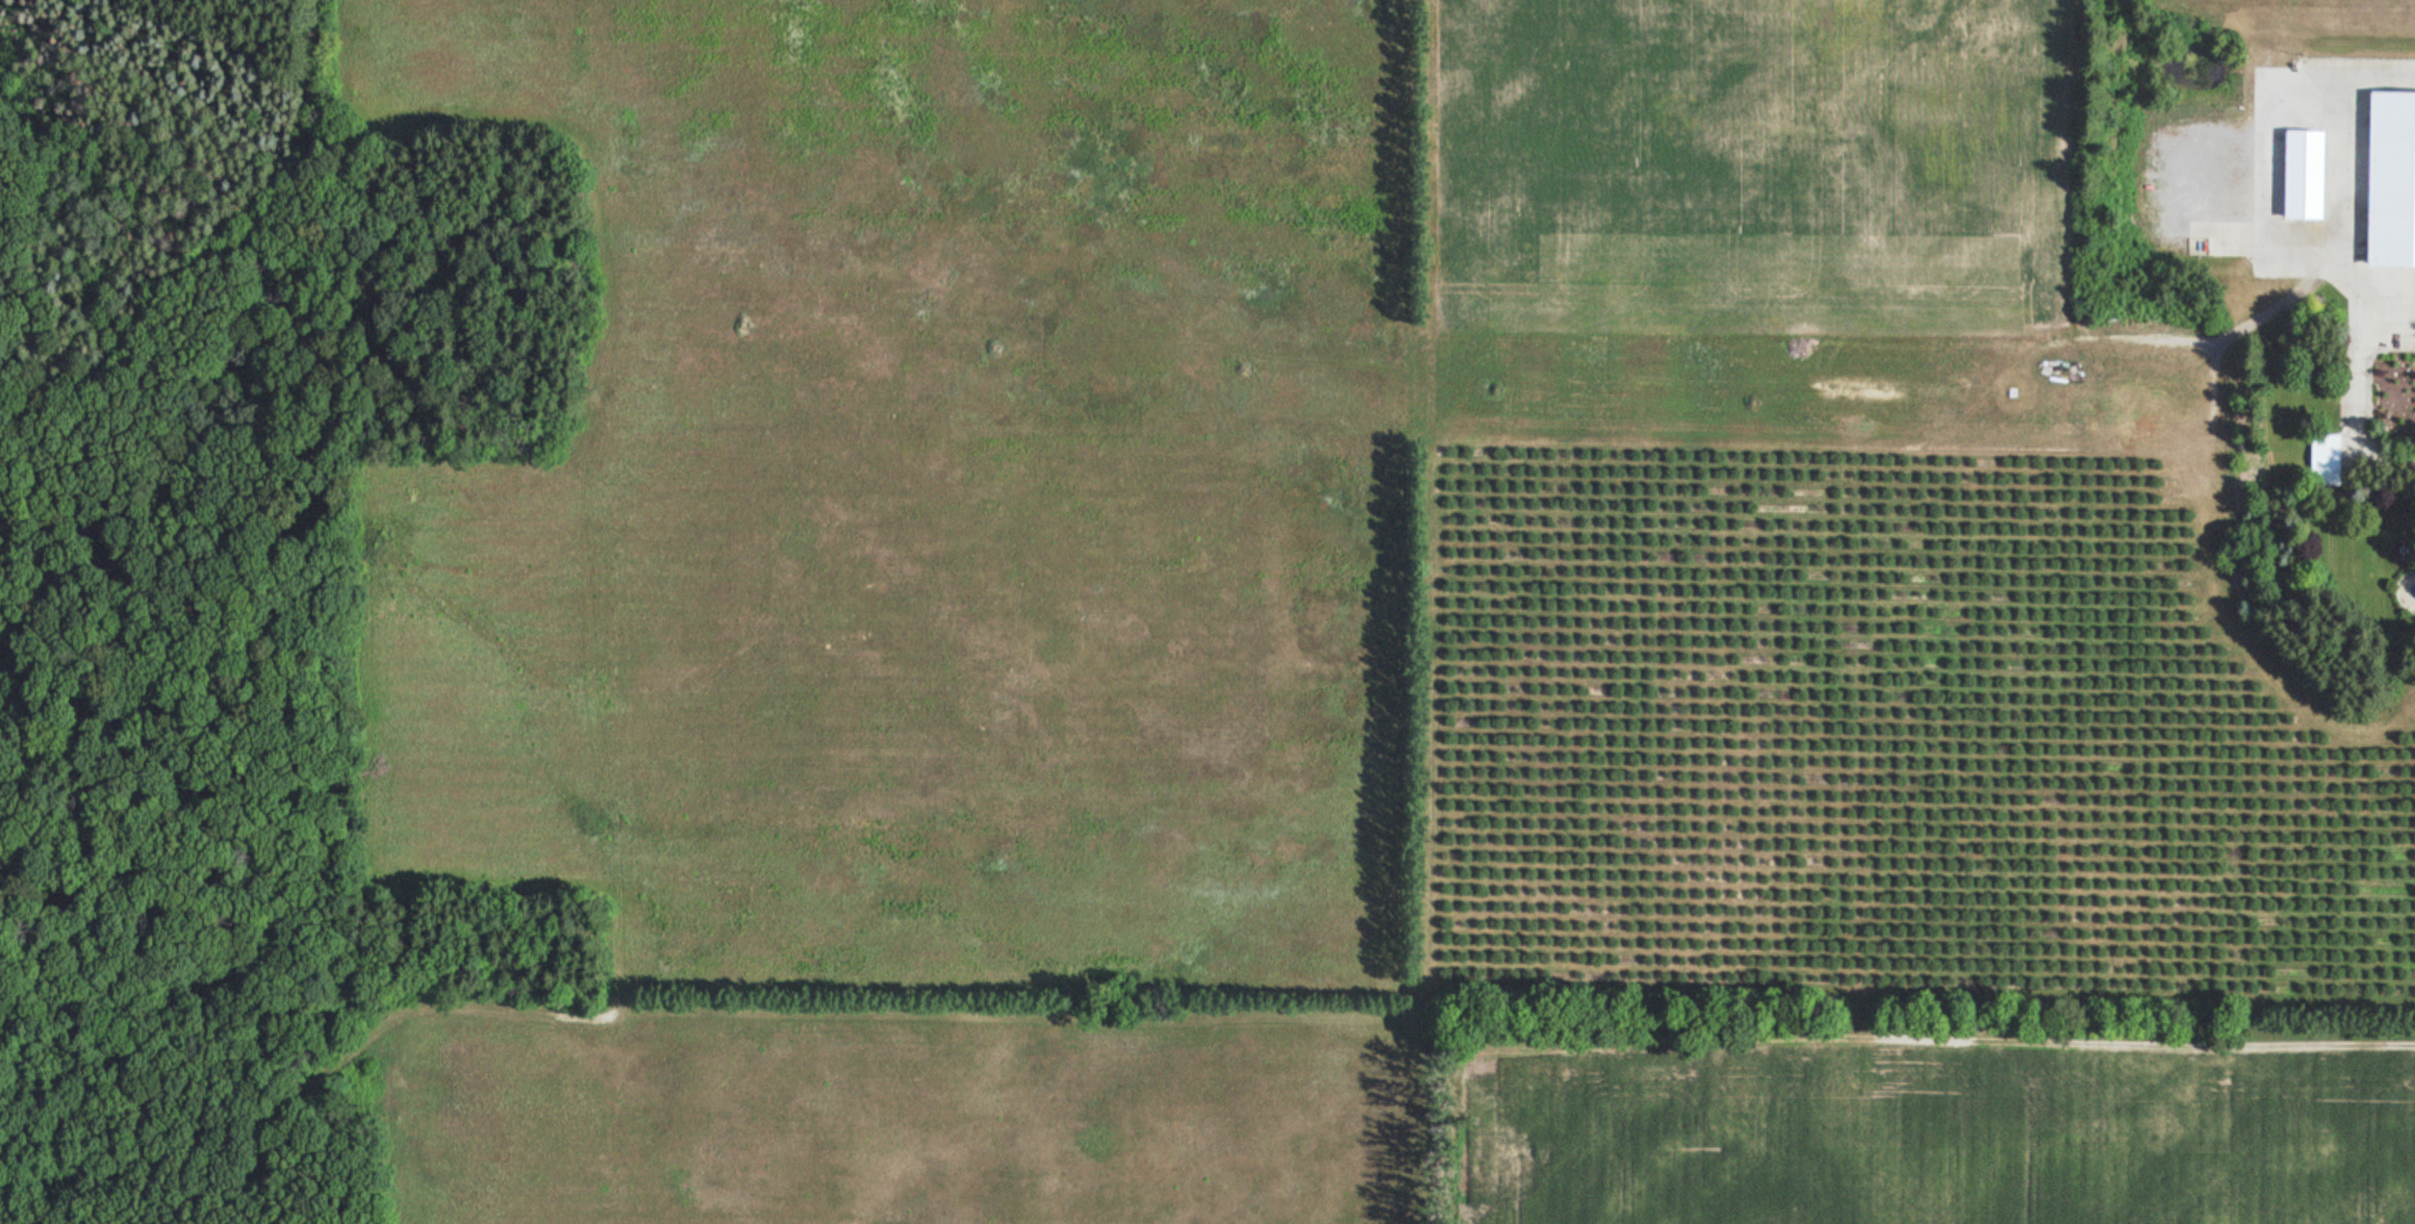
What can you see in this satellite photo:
building: (2301, 177)
building: (2389, 182)
building: (2324, 461)

